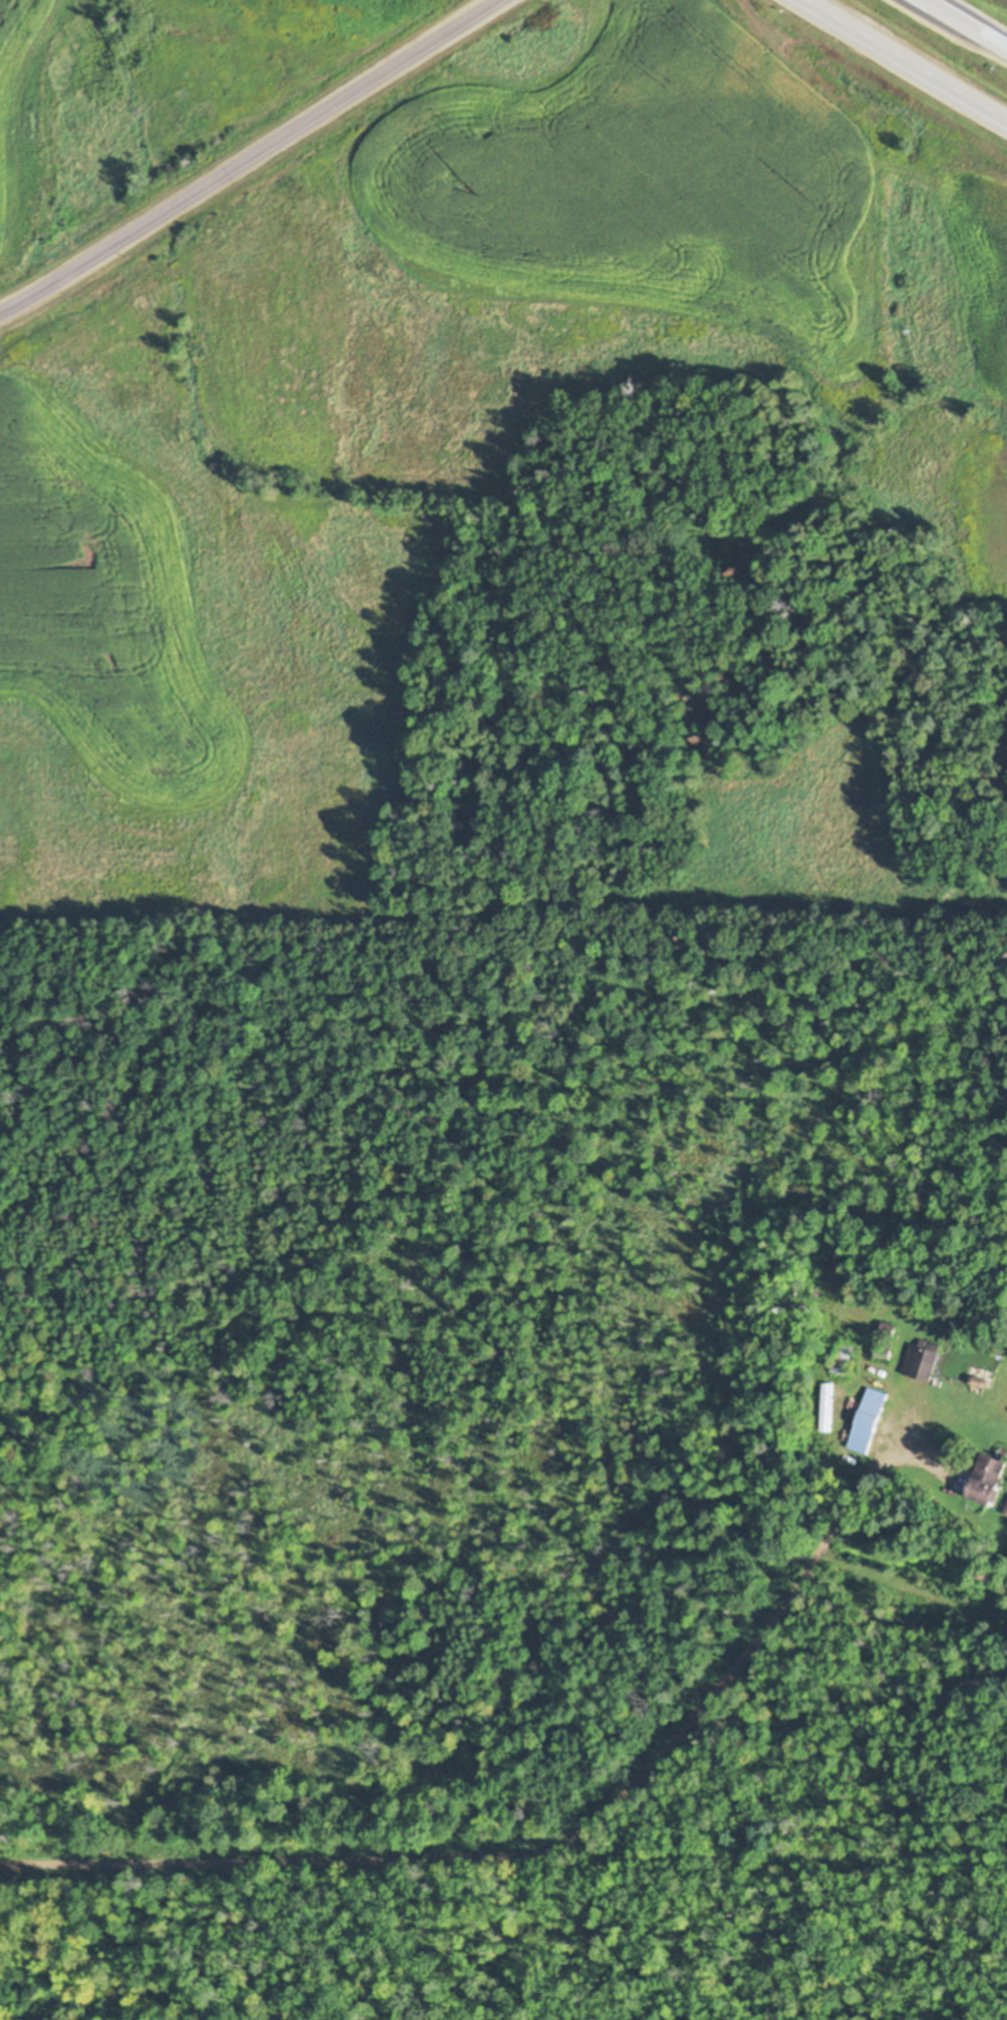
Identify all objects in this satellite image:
road: (967, 23)
road: (905, 60)
road: (246, 156)
building: (923, 1359)
building: (863, 1417)
building: (989, 1479)
road: (536, 1854)

